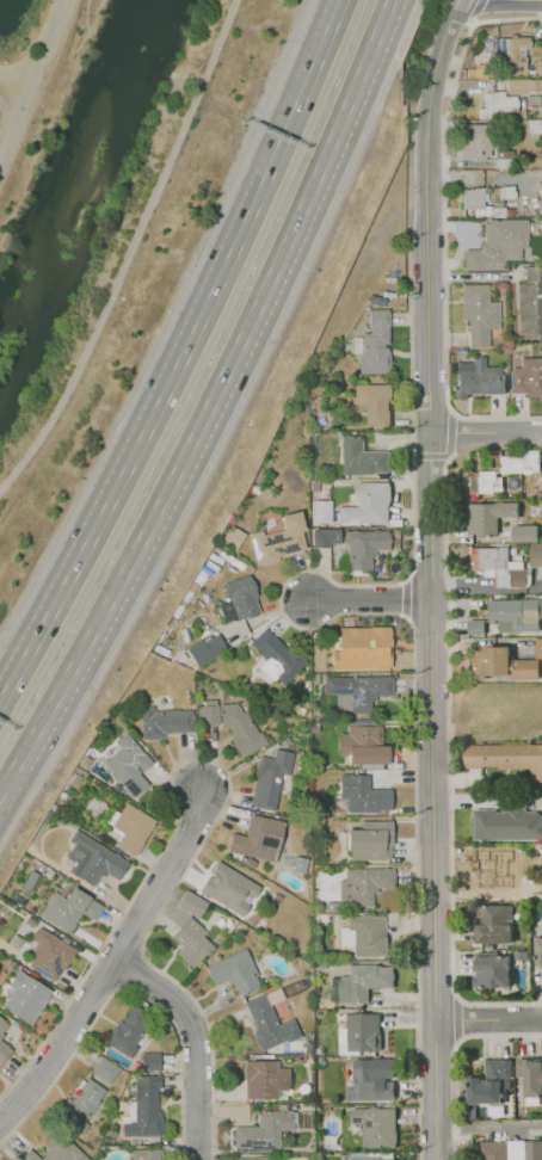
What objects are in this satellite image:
road: (475, 8)
road: (473, 21)
building: (512, 51)
building: (538, 67)
road: (13, 80)
road: (29, 80)
building: (523, 85)
building: (498, 105)
building: (476, 141)
park: (86, 180)
building: (473, 197)
road: (444, 227)
road: (462, 243)
building: (498, 243)
road: (427, 246)
road: (131, 252)
road: (466, 277)
road: (454, 301)
building: (530, 301)
building: (479, 314)
road: (411, 316)
road: (448, 339)
building: (376, 344)
road: (399, 353)
road: (183, 356)
building: (528, 376)
building: (480, 377)
road: (209, 402)
building: (374, 403)
road: (449, 431)
road: (486, 438)
building: (364, 457)
road: (430, 457)
building: (519, 461)
building: (486, 482)
building: (369, 505)
building: (318, 512)
building: (488, 514)
building: (524, 532)
building: (326, 537)
building: (278, 539)
building: (365, 547)
building: (535, 555)
building: (501, 566)
road: (431, 576)
building: (240, 598)
road: (406, 598)
road: (374, 603)
road: (363, 612)
building: (517, 613)
building: (474, 625)
building: (204, 648)
building: (365, 648)
building: (537, 648)
building: (279, 658)
building: (503, 664)
building: (364, 693)
building: (165, 722)
building: (233, 723)
building: (363, 746)
building: (505, 757)
building: (129, 765)
road: (449, 766)
road: (224, 770)
building: (270, 779)
building: (364, 795)
building: (507, 822)
building: (134, 828)
building: (258, 839)
building: (371, 841)
building: (93, 859)
building: (494, 868)
building: (369, 883)
building: (224, 887)
building: (192, 903)
building: (69, 908)
building: (494, 923)
building: (369, 934)
building: (191, 940)
building: (538, 951)
building: (51, 957)
road: (112, 969)
building: (493, 969)
building: (234, 973)
building: (361, 982)
road: (123, 992)
building: (25, 999)
road: (457, 1017)
road: (489, 1020)
building: (269, 1024)
building: (4, 1026)
building: (129, 1029)
building: (363, 1032)
road: (202, 1041)
building: (4, 1051)
road: (452, 1056)
building: (150, 1061)
building: (104, 1069)
building: (530, 1075)
building: (265, 1079)
building: (492, 1082)
building: (369, 1086)
building: (79, 1105)
building: (143, 1110)
building: (376, 1128)
road: (489, 1128)
building: (264, 1131)
building: (510, 1149)
building: (55, 1153)
building: (144, 1154)
building: (369, 1158)
building: (248, 1159)

